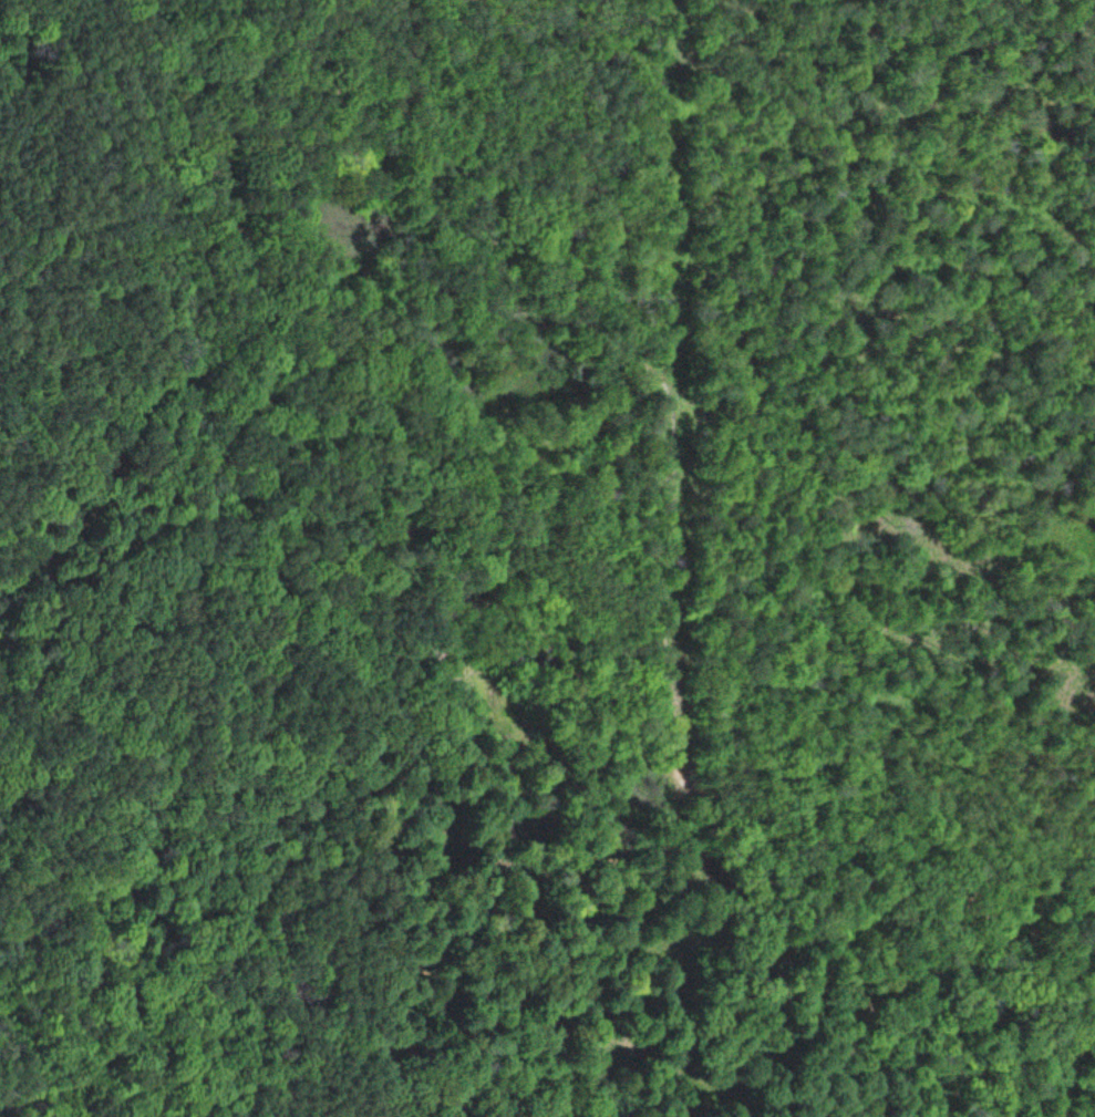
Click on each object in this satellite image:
road: (411, 540)

